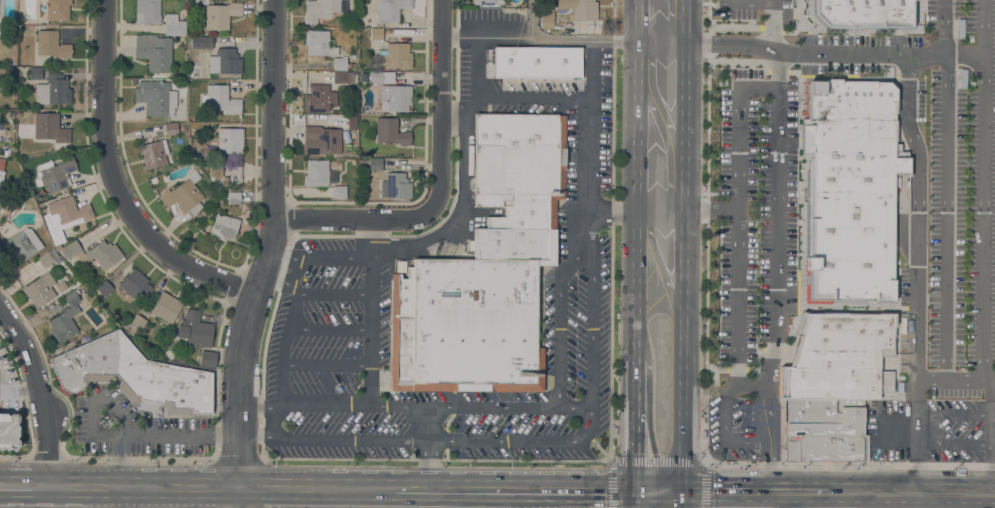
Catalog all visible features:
road: (753, 0)
building: (488, 2)
building: (58, 9)
building: (322, 9)
building: (391, 9)
building: (580, 9)
building: (147, 11)
building: (864, 13)
building: (221, 14)
road: (709, 16)
road: (773, 17)
road: (531, 18)
road: (945, 19)
building: (546, 21)
road: (638, 21)
road: (684, 21)
road: (671, 23)
building: (174, 25)
road: (736, 27)
road: (773, 29)
road: (858, 29)
building: (2, 30)
road: (790, 31)
road: (898, 31)
building: (376, 34)
road: (486, 37)
road: (583, 41)
building: (206, 42)
road: (661, 42)
building: (320, 43)
road: (709, 43)
building: (51, 44)
building: (154, 51)
road: (946, 52)
road: (834, 53)
road: (898, 54)
building: (394, 56)
road: (743, 60)
building: (225, 61)
building: (537, 62)
building: (340, 63)
building: (350, 65)
road: (779, 71)
road: (795, 71)
building: (2, 72)
building: (35, 73)
building: (363, 76)
building: (341, 77)
building: (381, 77)
building: (133, 81)
road: (898, 81)
road: (760, 86)
building: (53, 90)
building: (156, 97)
building: (395, 97)
road: (534, 97)
building: (319, 98)
road: (657, 98)
building: (220, 99)
road: (908, 107)
building: (19, 113)
road: (453, 113)
road: (800, 113)
road: (637, 126)
road: (682, 126)
building: (50, 127)
building: (171, 128)
building: (390, 131)
building: (325, 138)
building: (230, 140)
road: (666, 142)
road: (588, 149)
building: (153, 153)
building: (375, 164)
building: (1, 169)
building: (215, 170)
building: (316, 172)
road: (465, 173)
building: (55, 174)
building: (154, 180)
road: (117, 182)
building: (225, 182)
building: (519, 183)
building: (395, 186)
road: (441, 186)
road: (778, 187)
building: (852, 189)
road: (984, 189)
road: (273, 190)
building: (339, 191)
building: (184, 194)
building: (234, 197)
road: (610, 210)
road: (710, 210)
road: (659, 211)
building: (64, 217)
road: (947, 223)
building: (224, 226)
road: (738, 234)
building: (21, 244)
building: (94, 253)
building: (48, 257)
road: (320, 257)
road: (660, 265)
road: (292, 271)
building: (104, 275)
road: (281, 281)
building: (135, 284)
building: (61, 285)
road: (636, 285)
building: (103, 288)
building: (40, 289)
road: (334, 294)
road: (849, 304)
building: (166, 307)
road: (902, 307)
road: (848, 309)
road: (372, 311)
building: (65, 319)
building: (139, 324)
road: (918, 325)
building: (466, 326)
road: (560, 327)
road: (330, 329)
building: (194, 330)
road: (895, 330)
road: (283, 347)
road: (775, 348)
road: (785, 348)
road: (592, 350)
road: (681, 351)
building: (169, 354)
building: (841, 357)
building: (207, 358)
road: (758, 360)
road: (327, 364)
road: (718, 369)
road: (737, 369)
building: (133, 375)
road: (950, 378)
road: (781, 381)
road: (753, 383)
road: (990, 386)
road: (12, 390)
road: (39, 394)
road: (706, 398)
road: (432, 406)
road: (257, 407)
road: (118, 414)
road: (955, 414)
road: (239, 415)
road: (769, 416)
road: (275, 421)
road: (635, 425)
road: (898, 427)
building: (824, 429)
building: (9, 430)
road: (725, 432)
road: (257, 435)
road: (424, 440)
road: (955, 443)
road: (596, 445)
road: (993, 445)
road: (428, 447)
road: (14, 455)
road: (46, 455)
road: (139, 457)
road: (237, 459)
road: (361, 459)
road: (611, 460)
road: (707, 460)
road: (659, 463)
road: (470, 467)
road: (239, 470)
road: (26, 474)
road: (144, 487)
road: (317, 488)
road: (514, 489)
traffic signals: (635, 491)
road: (658, 491)
traffic signals: (681, 491)
road: (734, 491)
road: (812, 491)
road: (916, 492)
road: (25, 496)
road: (52, 497)
road: (116, 497)
road: (152, 497)
road: (182, 497)
road: (239, 497)
road: (442, 498)
road: (542, 499)
road: (596, 499)
road: (635, 499)
road: (641, 499)
road: (681, 499)
road: (868, 500)
road: (914, 500)

